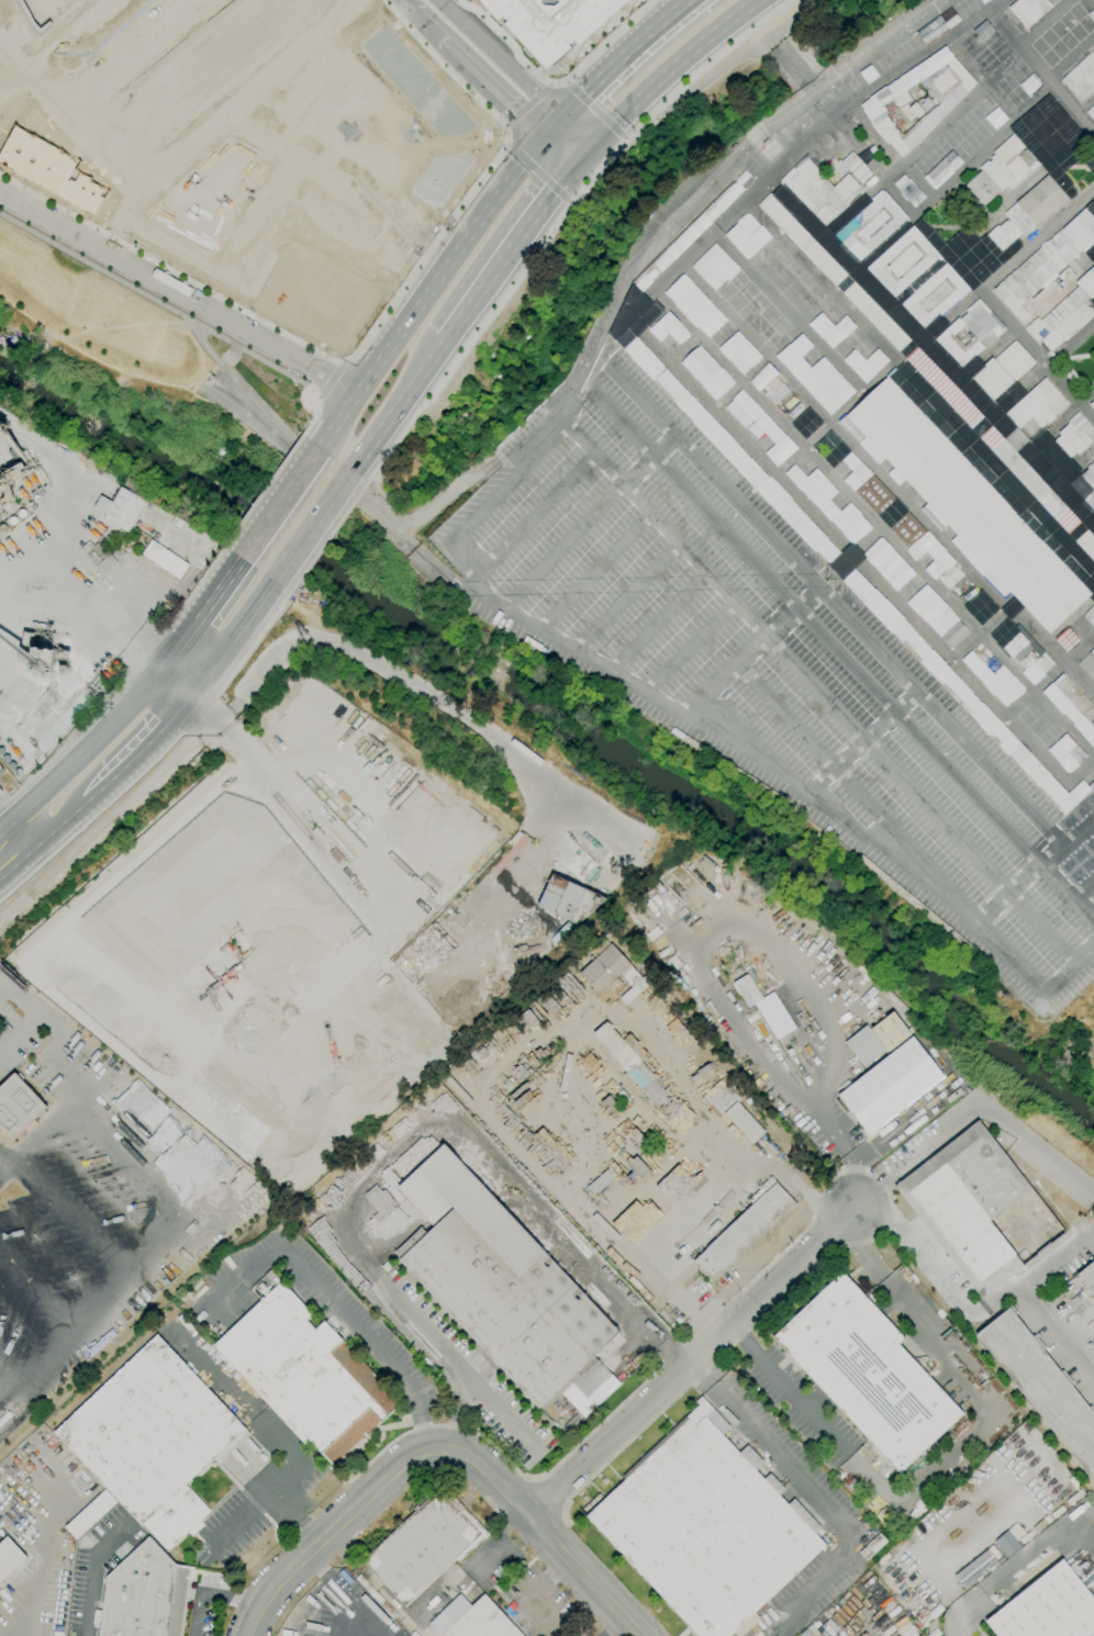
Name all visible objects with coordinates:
road: (348, 1)
road: (412, 3)
building: (1030, 10)
building: (40, 11)
road: (297, 18)
road: (428, 21)
building: (550, 22)
road: (1, 29)
road: (254, 31)
road: (778, 42)
road: (205, 45)
road: (53, 46)
road: (621, 56)
road: (669, 69)
road: (1042, 70)
road: (146, 74)
road: (513, 74)
building: (1082, 77)
road: (555, 80)
road: (565, 80)
building: (417, 82)
road: (550, 82)
road: (492, 86)
road: (825, 94)
building: (947, 98)
road: (114, 99)
road: (303, 101)
road: (526, 103)
building: (926, 104)
road: (1085, 107)
road: (381, 109)
road: (595, 109)
building: (912, 111)
building: (1092, 114)
road: (217, 116)
building: (994, 116)
road: (67, 117)
traffic signals: (561, 119)
road: (949, 121)
road: (503, 125)
road: (552, 127)
road: (342, 131)
traffic signals: (544, 136)
building: (829, 137)
road: (625, 138)
road: (504, 143)
road: (802, 143)
flagpole: (867, 143)
traffic signals: (592, 147)
road: (748, 148)
road: (559, 150)
building: (873, 150)
building: (771, 152)
road: (891, 152)
building: (47, 164)
traffic signals: (576, 166)
building: (852, 167)
building: (941, 169)
building: (1000, 170)
road: (537, 171)
building: (442, 176)
road: (338, 180)
building: (1085, 180)
building: (744, 181)
building: (820, 191)
road: (569, 202)
road: (200, 208)
road: (295, 209)
road: (985, 213)
building: (707, 218)
building: (1020, 218)
road: (559, 221)
road: (906, 224)
building: (870, 226)
road: (514, 240)
building: (802, 240)
building: (741, 242)
building: (672, 253)
building: (1047, 260)
building: (715, 264)
road: (961, 270)
road: (234, 272)
building: (944, 279)
building: (643, 283)
road: (429, 290)
road: (178, 291)
building: (313, 294)
building: (1092, 300)
building: (691, 301)
road: (160, 302)
road: (789, 311)
building: (1064, 316)
building: (877, 317)
road: (1026, 317)
building: (780, 324)
building: (757, 325)
building: (670, 329)
road: (935, 329)
road: (367, 336)
building: (946, 336)
building: (830, 337)
building: (763, 338)
road: (590, 343)
building: (794, 350)
road: (930, 351)
building: (739, 352)
street lamp: (324, 356)
road: (1074, 357)
road: (342, 361)
building: (866, 362)
building: (1003, 371)
building: (706, 372)
building: (659, 374)
road: (330, 379)
road: (1031, 381)
road: (569, 384)
building: (770, 384)
road: (919, 384)
building: (826, 385)
building: (944, 388)
road: (316, 396)
building: (1092, 404)
road: (398, 405)
road: (328, 406)
building: (1038, 406)
road: (312, 417)
road: (1060, 421)
building: (760, 426)
building: (1074, 436)
road: (665, 446)
road: (314, 452)
road: (588, 452)
building: (733, 452)
road: (1074, 467)
building: (851, 470)
road: (637, 471)
building: (23, 474)
road: (884, 480)
building: (1030, 480)
building: (1084, 485)
road: (261, 491)
building: (874, 494)
road: (359, 495)
road: (491, 496)
road: (550, 500)
building: (830, 504)
building: (102, 505)
building: (964, 505)
road: (276, 507)
building: (124, 508)
road: (322, 508)
building: (21, 514)
building: (12, 520)
building: (177, 522)
road: (874, 522)
building: (800, 523)
building: (2, 528)
road: (1081, 528)
road: (330, 536)
road: (870, 537)
building: (1, 541)
road: (409, 542)
building: (1087, 544)
road: (562, 547)
road: (849, 549)
building: (926, 550)
building: (98, 557)
road: (426, 557)
building: (165, 560)
road: (282, 563)
building: (889, 564)
road: (20, 569)
road: (594, 571)
road: (448, 576)
road: (21, 580)
road: (469, 580)
road: (649, 584)
road: (191, 590)
road: (628, 598)
building: (873, 602)
road: (125, 608)
road: (836, 609)
road: (792, 613)
road: (199, 616)
building: (938, 616)
building: (1091, 616)
road: (654, 627)
road: (815, 629)
road: (980, 634)
road: (230, 638)
building: (1067, 640)
road: (254, 645)
building: (1016, 645)
building: (40, 647)
road: (690, 648)
road: (142, 651)
building: (1026, 660)
building: (1089, 663)
building: (1041, 665)
building: (64, 669)
building: (993, 674)
road: (725, 675)
road: (1049, 675)
road: (16, 691)
building: (960, 692)
building: (1072, 704)
road: (670, 707)
road: (456, 713)
road: (199, 715)
road: (221, 719)
river: (562, 722)
road: (849, 722)
building: (1050, 736)
road: (65, 741)
road: (859, 741)
road: (85, 749)
road: (141, 751)
road: (820, 752)
building: (11, 766)
building: (1037, 770)
road: (1081, 772)
building: (19, 773)
building: (1093, 773)
road: (91, 818)
road: (12, 822)
road: (588, 822)
road: (59, 825)
road: (12, 843)
road: (1052, 854)
road: (1080, 883)
road: (1065, 894)
building: (568, 899)
road: (991, 909)
road: (959, 911)
building: (454, 926)
quarry: (271, 939)
road: (764, 957)
road: (1069, 967)
building: (612, 971)
building: (747, 991)
road: (32, 1012)
building: (877, 1039)
road: (522, 1046)
road: (67, 1055)
building: (891, 1086)
building: (16, 1106)
building: (732, 1110)
building: (625, 1142)
road: (408, 1155)
building: (645, 1161)
building: (190, 1166)
building: (599, 1183)
building: (109, 1201)
building: (980, 1209)
road: (864, 1210)
road: (699, 1211)
building: (638, 1217)
road: (808, 1223)
road: (179, 1225)
building: (744, 1232)
road: (1053, 1259)
building: (1089, 1277)
building: (500, 1282)
road: (349, 1315)
road: (695, 1362)
building: (867, 1372)
building: (306, 1375)
road: (5, 1378)
building: (591, 1379)
building: (1042, 1386)
road: (239, 1403)
building: (43, 1433)
building: (154, 1439)
road: (444, 1448)
road: (950, 1461)
parking lot: (256, 1484)
road: (546, 1497)
road: (817, 1497)
road: (255, 1500)
building: (90, 1514)
road: (297, 1514)
building: (707, 1527)
building: (1006, 1543)
building: (424, 1546)
building: (9, 1558)
road: (45, 1558)
building: (974, 1568)
road: (92, 1575)
road: (1017, 1576)
road: (528, 1593)
building: (145, 1594)
road: (209, 1594)
road: (328, 1595)
building: (1048, 1609)
parking lot: (337, 1612)
road: (334, 1615)
building: (477, 1622)
road: (616, 1626)
road: (15, 1633)
road: (834, 1635)

